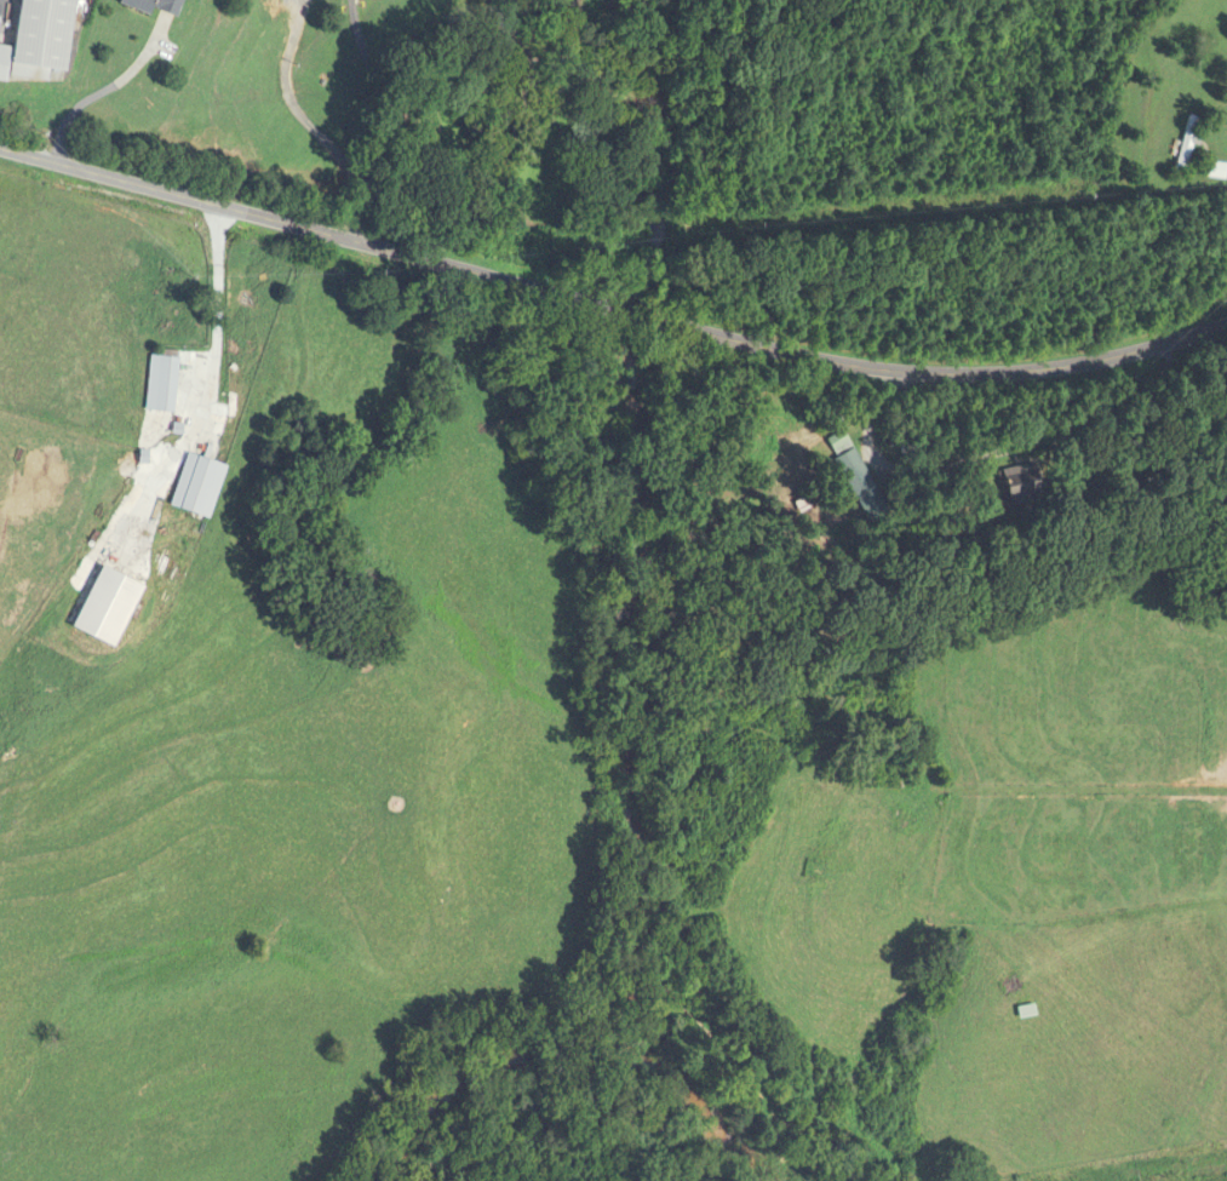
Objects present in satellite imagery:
road: (349, 1)
road: (350, 1)
building: (154, 6)
building: (40, 42)
road: (367, 55)
road: (463, 57)
road: (104, 90)
road: (292, 104)
building: (1186, 145)
road: (372, 172)
building: (1217, 172)
road: (609, 309)
building: (161, 385)
building: (856, 477)
building: (1021, 483)
building: (197, 485)
building: (1026, 1011)

